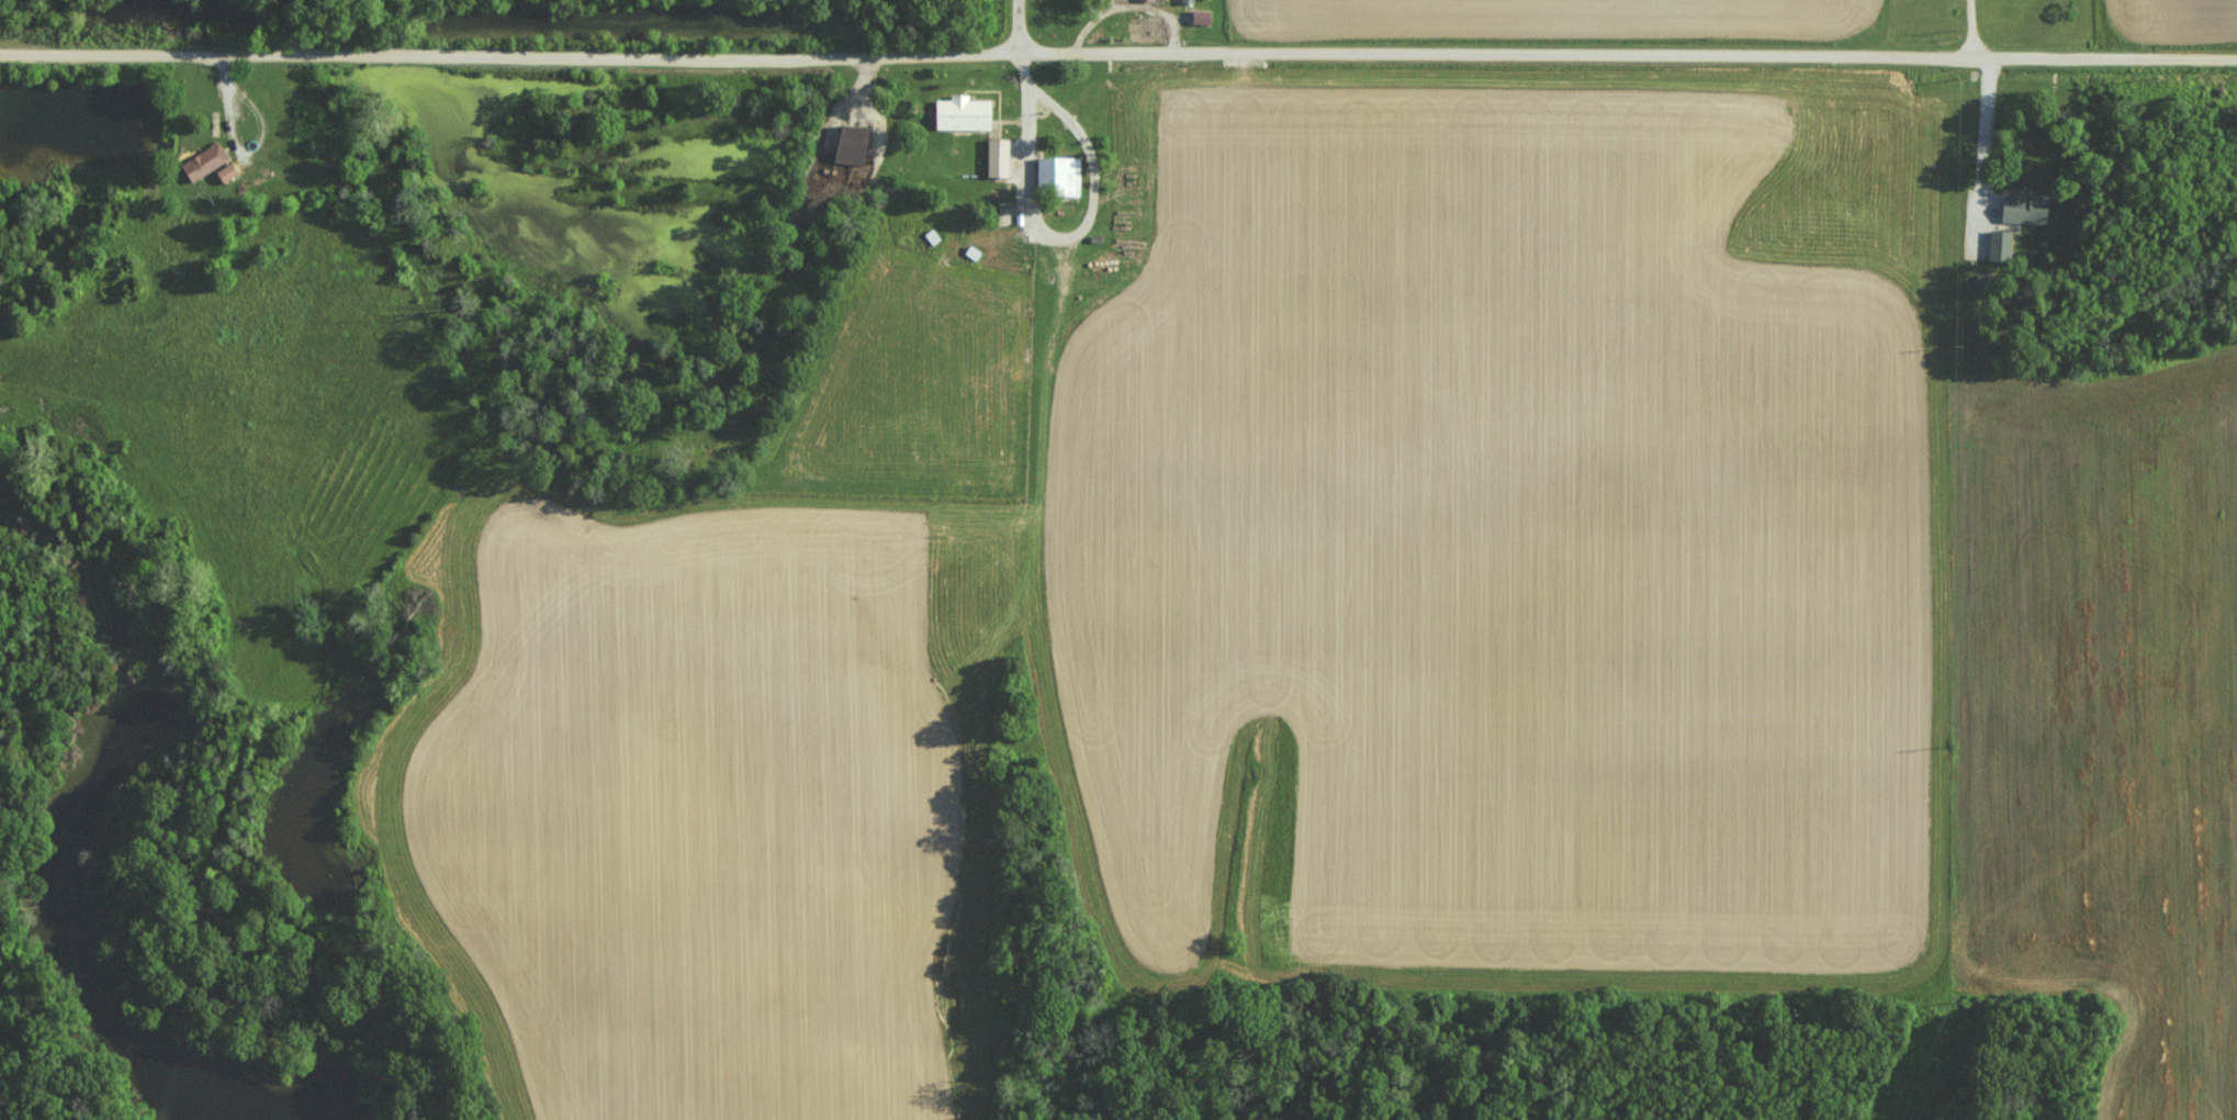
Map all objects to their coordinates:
building: (1185, 1)
building: (1198, 16)
road: (1015, 30)
road: (1976, 31)
road: (1118, 59)
building: (958, 113)
building: (847, 144)
building: (994, 157)
building: (201, 161)
building: (224, 172)
building: (1056, 175)
building: (2021, 208)
road: (1055, 238)
building: (1997, 245)

